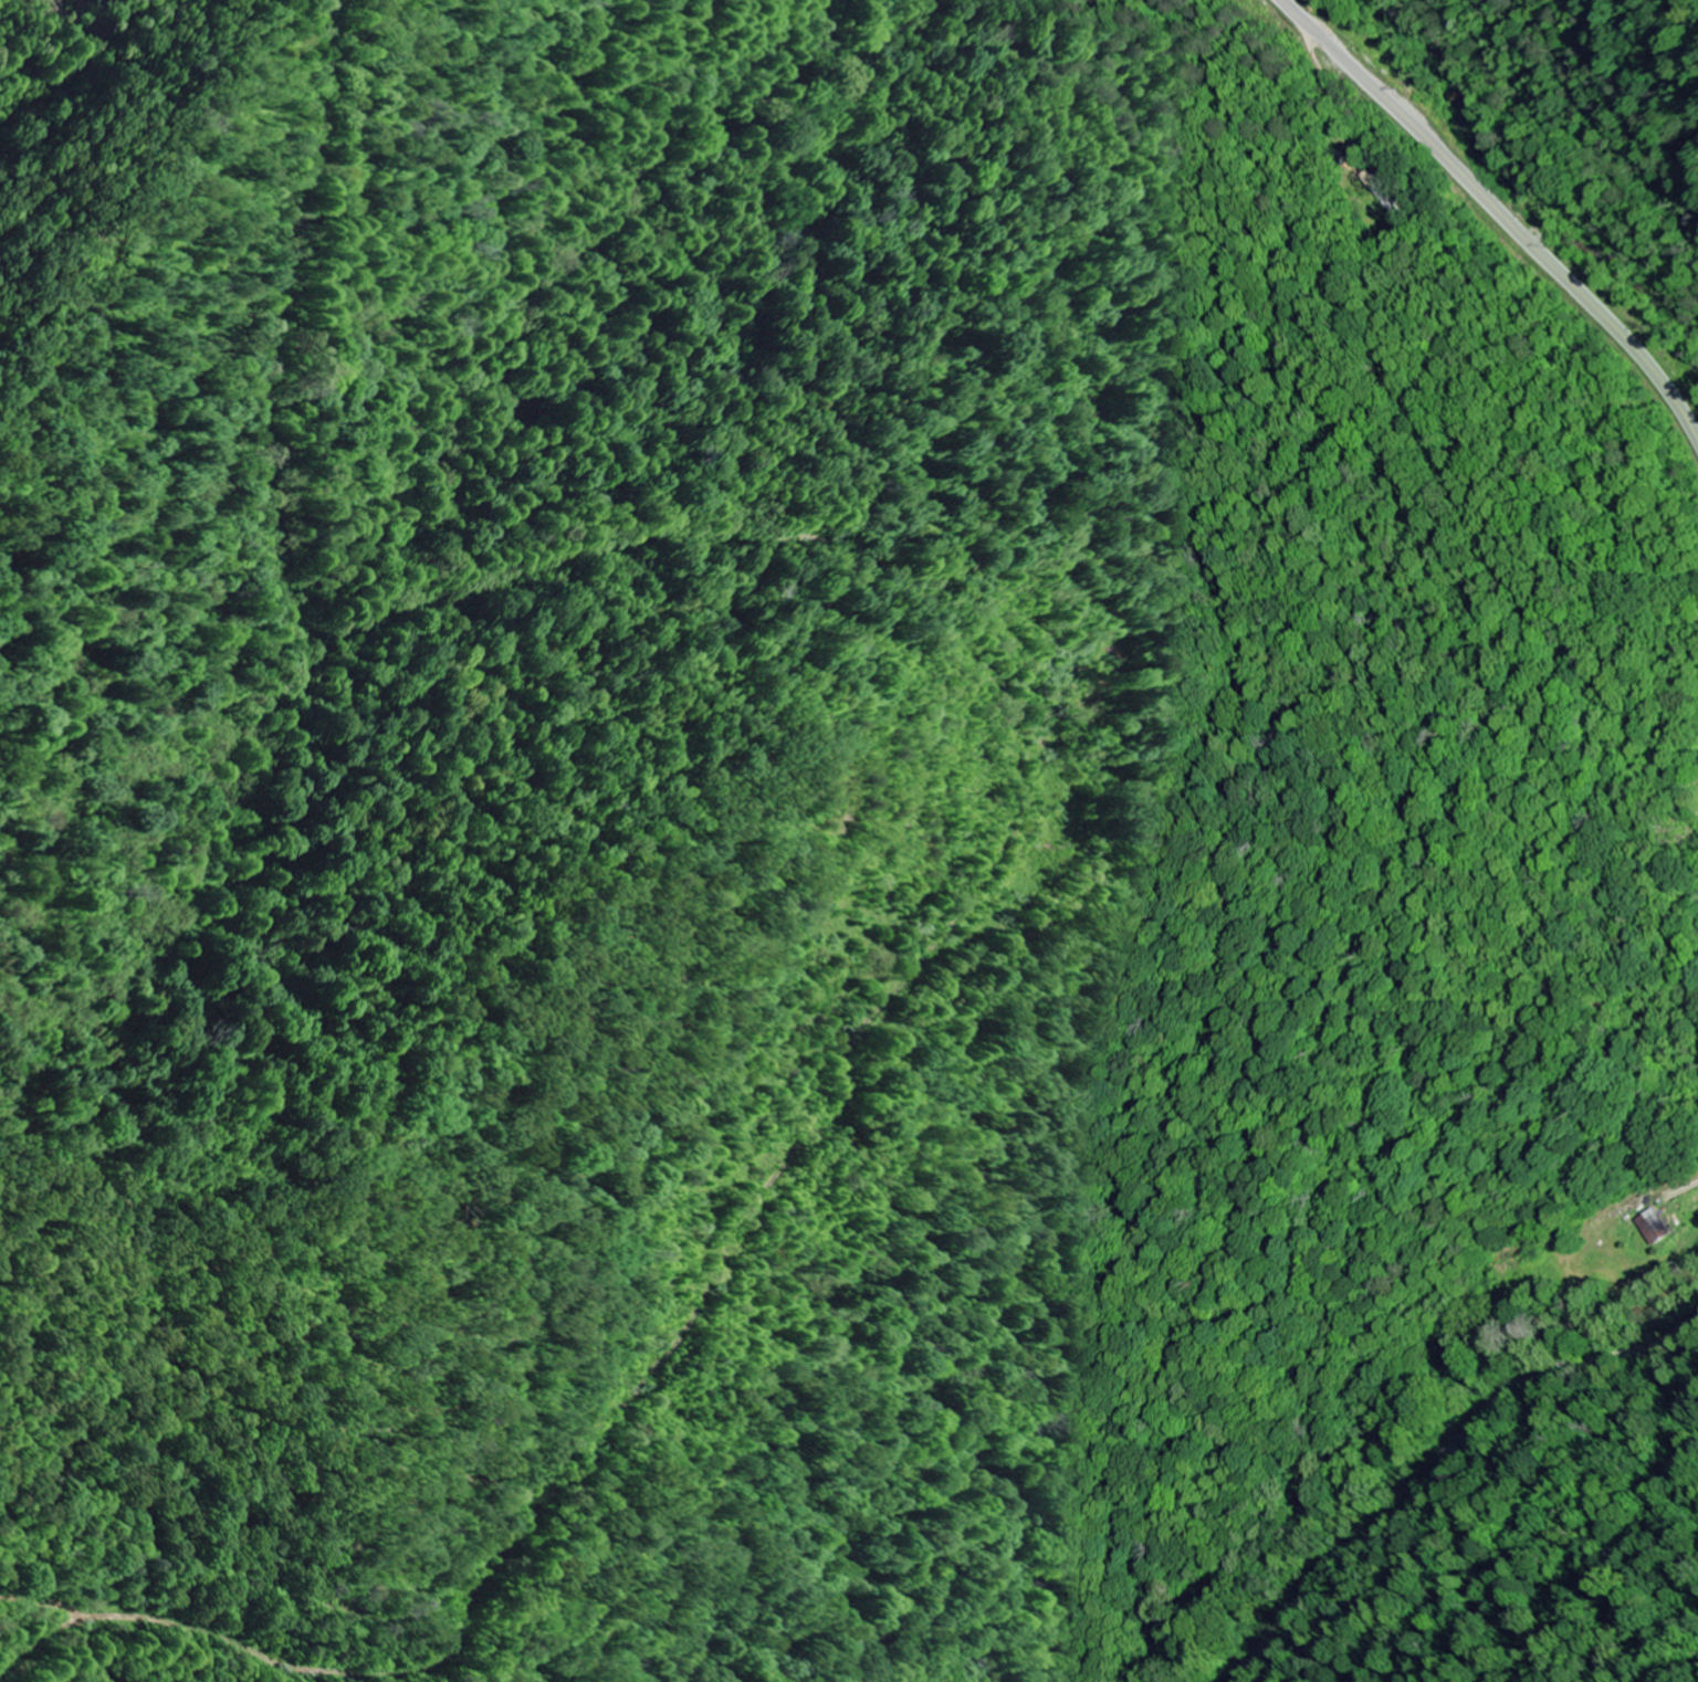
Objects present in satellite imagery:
road: (1417, 92)
road: (1500, 215)
building: (1653, 1229)
road: (1468, 1487)

